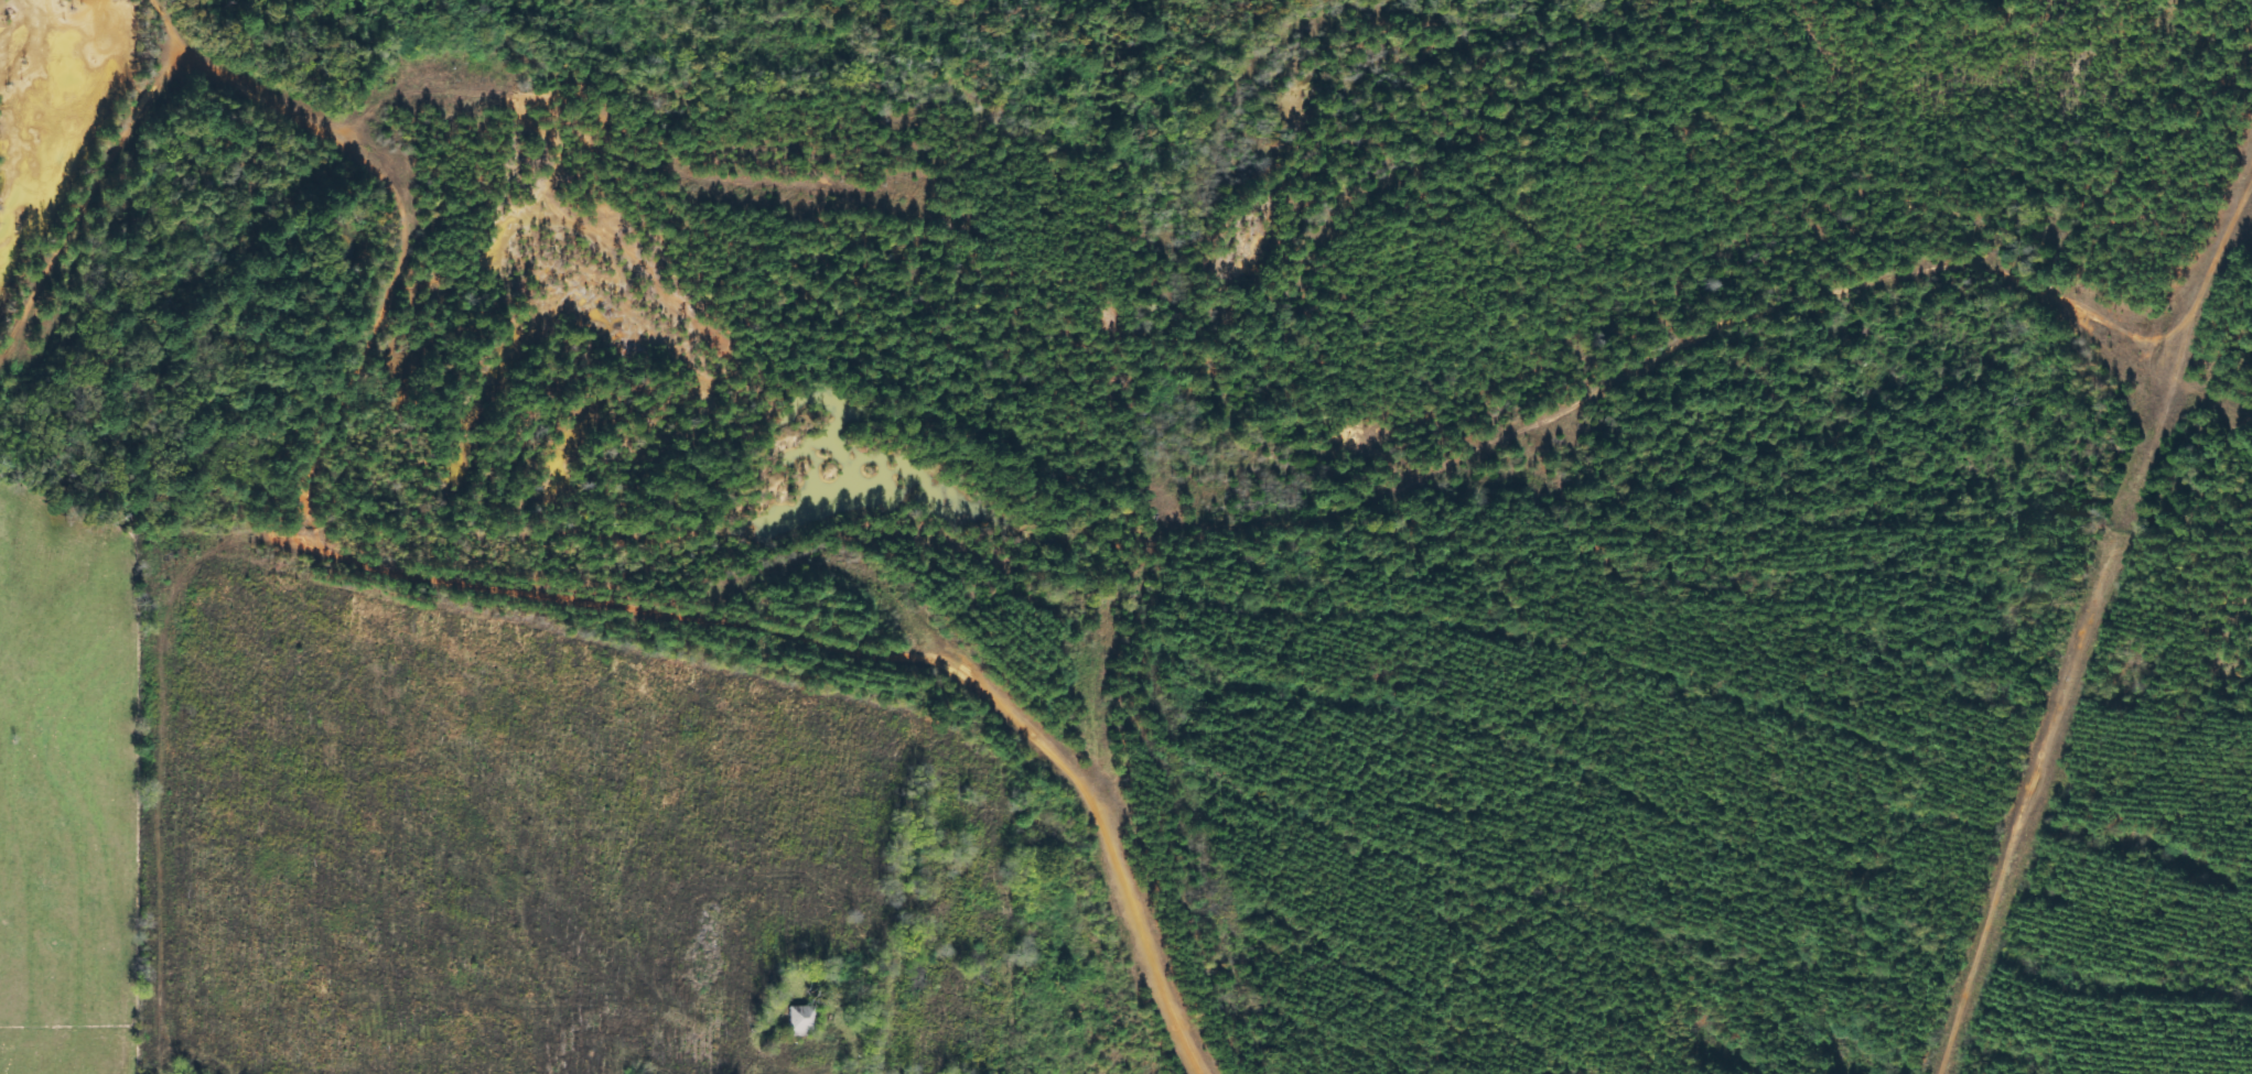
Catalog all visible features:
building: (801, 1021)

